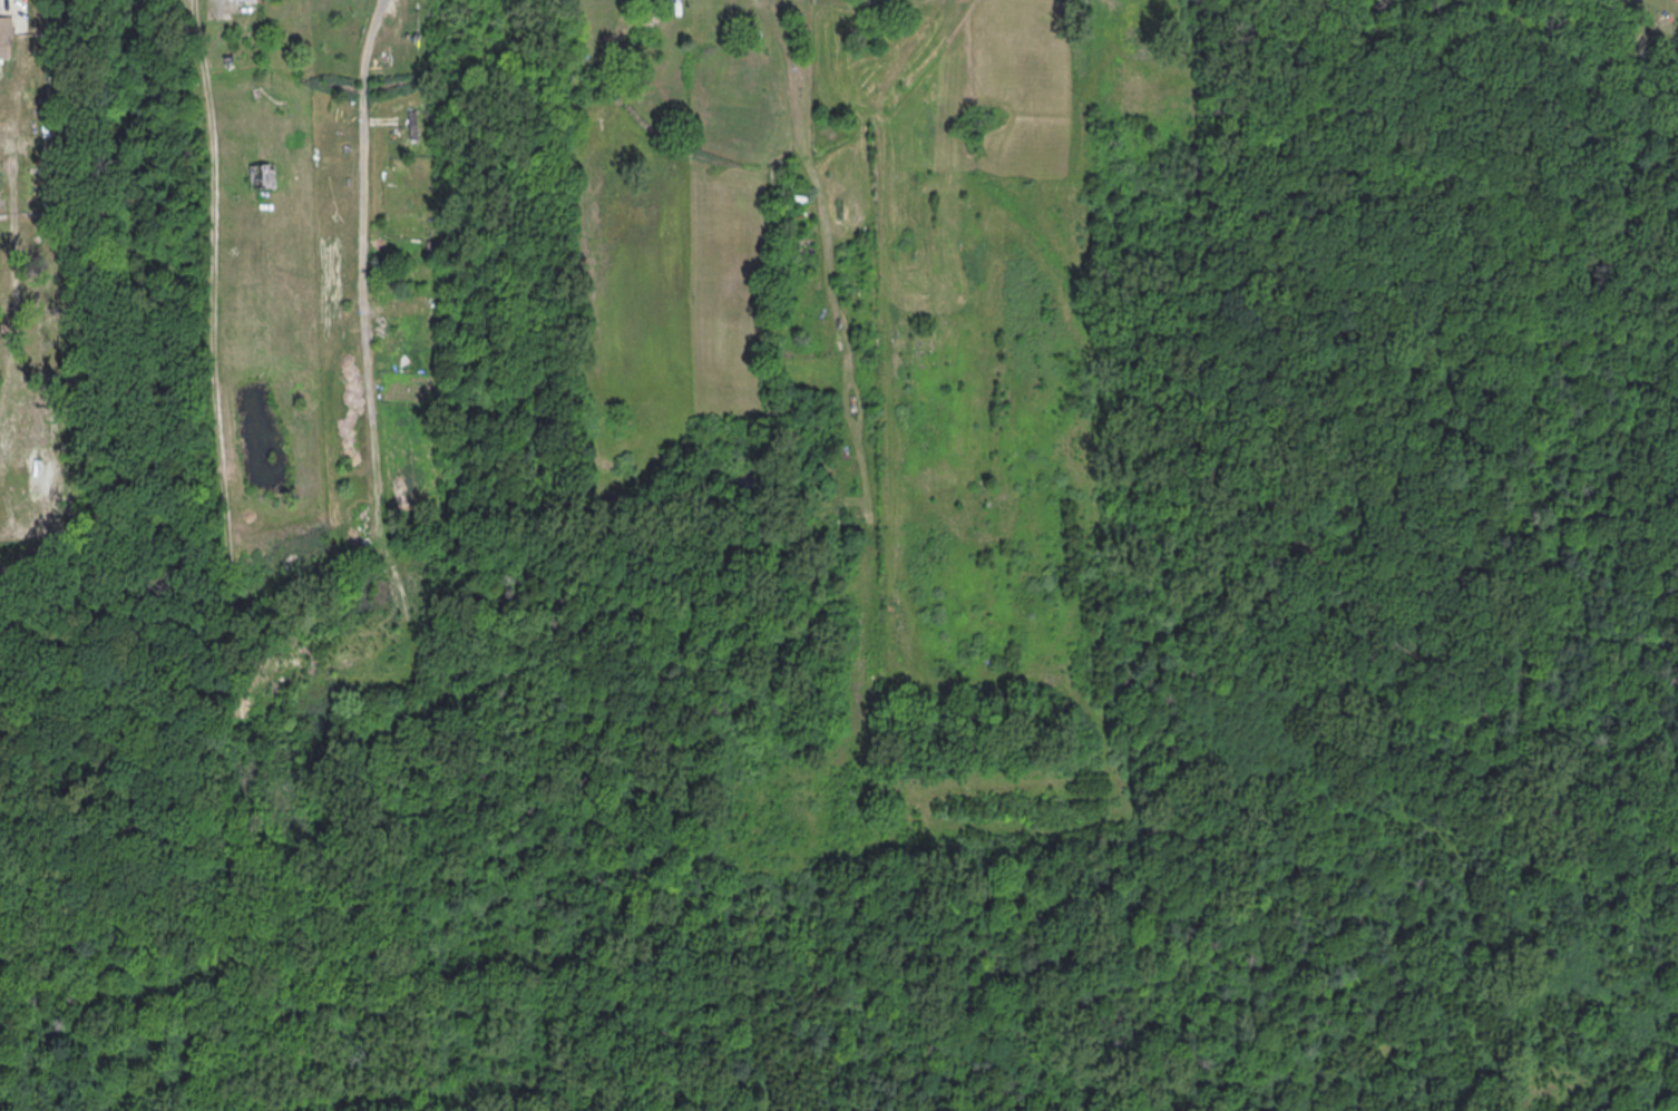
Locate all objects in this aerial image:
building: (242, 0)
road: (672, 4)
road: (12, 8)
building: (4, 36)
building: (411, 124)
building: (262, 175)
road: (358, 176)

